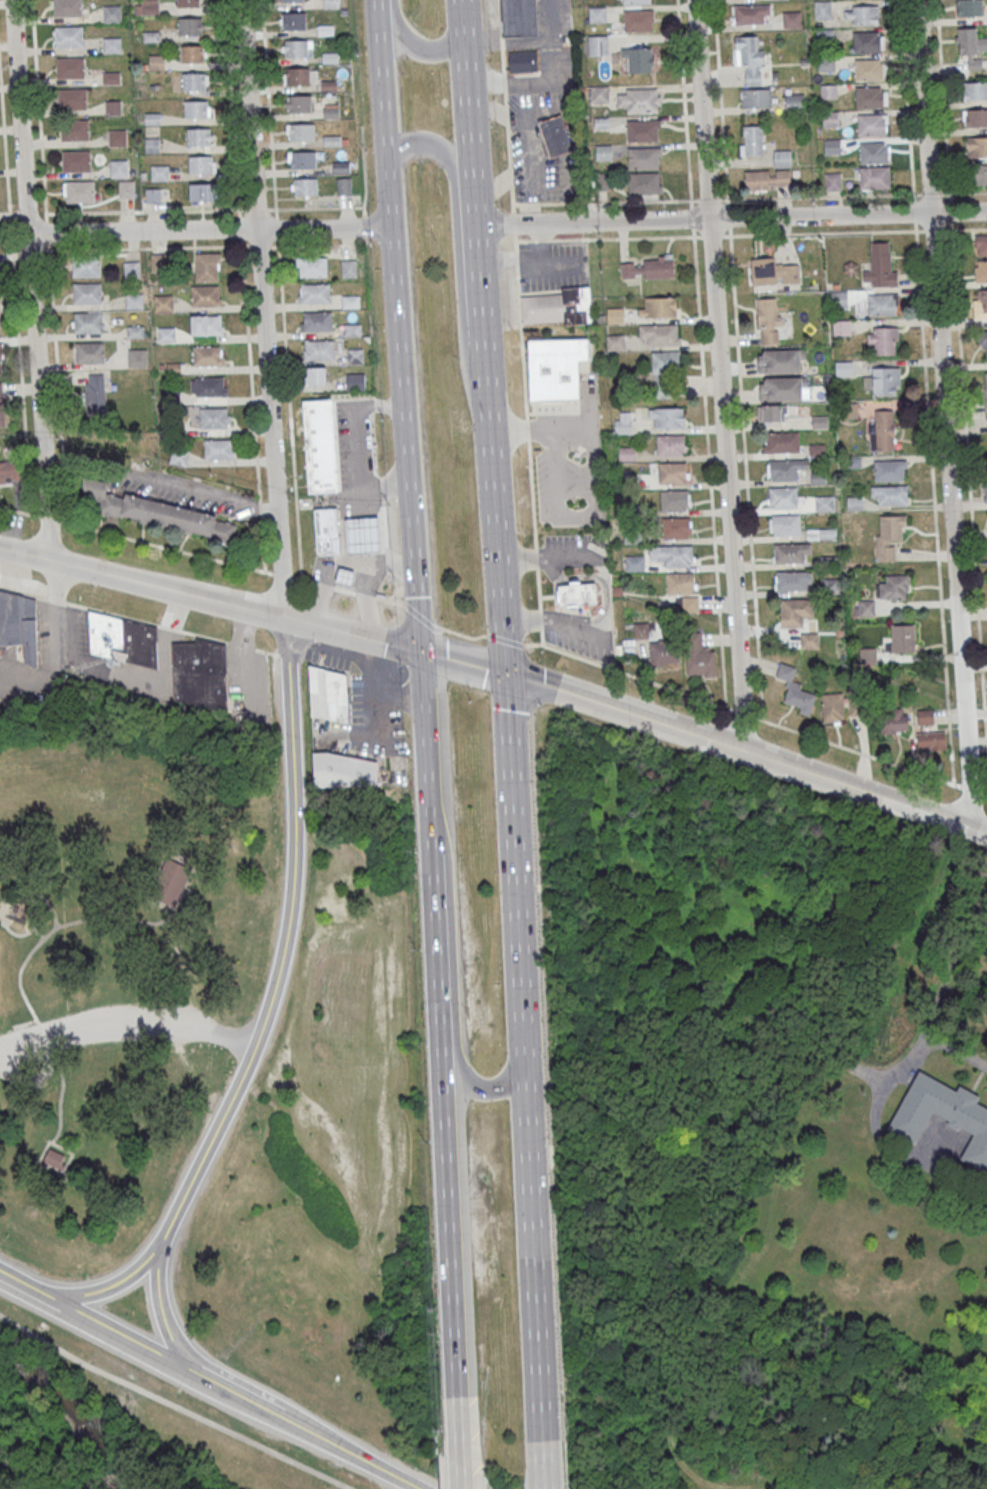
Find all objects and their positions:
building: (292, 0)
building: (637, 1)
building: (188, 3)
building: (331, 3)
building: (150, 7)
building: (66, 8)
building: (969, 8)
building: (822, 9)
building: (112, 13)
road: (498, 14)
building: (596, 14)
building: (751, 14)
building: (861, 15)
building: (791, 19)
building: (294, 20)
building: (518, 20)
building: (638, 20)
building: (188, 25)
building: (68, 36)
road: (500, 38)
building: (866, 42)
building: (113, 45)
road: (530, 45)
building: (597, 45)
building: (971, 46)
building: (295, 48)
road: (415, 48)
building: (192, 53)
road: (501, 57)
building: (750, 57)
building: (637, 59)
building: (156, 61)
building: (522, 65)
building: (70, 68)
building: (868, 70)
parking lot: (552, 74)
road: (383, 75)
building: (297, 76)
building: (111, 77)
road: (503, 77)
building: (193, 81)
road: (524, 83)
building: (975, 90)
building: (828, 91)
road: (466, 93)
building: (599, 94)
building: (869, 97)
road: (504, 98)
building: (756, 98)
building: (72, 99)
building: (638, 100)
road: (906, 100)
road: (942, 100)
building: (794, 102)
building: (300, 103)
road: (684, 103)
road: (720, 103)
road: (37, 106)
building: (113, 107)
building: (196, 108)
road: (505, 115)
building: (975, 117)
building: (152, 118)
building: (871, 125)
building: (74, 130)
building: (642, 130)
building: (302, 131)
building: (198, 136)
building: (117, 137)
building: (554, 140)
building: (752, 140)
road: (4, 144)
building: (152, 145)
road: (507, 145)
building: (831, 146)
building: (976, 146)
building: (603, 152)
building: (873, 153)
building: (643, 157)
building: (304, 160)
building: (76, 161)
building: (200, 164)
building: (342, 167)
building: (119, 168)
building: (159, 172)
building: (771, 174)
building: (981, 174)
road: (510, 176)
building: (874, 177)
building: (832, 181)
building: (644, 182)
building: (305, 186)
building: (344, 186)
road: (390, 187)
building: (126, 188)
building: (80, 191)
building: (201, 191)
road: (963, 191)
road: (930, 192)
building: (153, 195)
road: (820, 195)
road: (511, 199)
road: (708, 199)
road: (604, 200)
road: (474, 206)
road: (244, 209)
street lamp: (509, 209)
road: (914, 210)
road: (950, 210)
road: (730, 215)
road: (692, 217)
road: (728, 217)
road: (513, 223)
road: (324, 227)
road: (964, 227)
road: (933, 229)
road: (142, 231)
road: (826, 232)
road: (711, 235)
road: (726, 235)
road: (626, 236)
road: (540, 239)
road: (522, 240)
road: (514, 242)
road: (539, 244)
building: (980, 244)
road: (215, 245)
road: (515, 256)
road: (504, 259)
road: (458, 264)
road: (551, 265)
building: (880, 265)
building: (86, 266)
building: (207, 266)
building: (658, 266)
building: (313, 267)
building: (349, 268)
building: (131, 269)
building: (630, 269)
building: (981, 270)
parking lot: (556, 271)
building: (773, 272)
road: (31, 279)
road: (244, 285)
road: (280, 289)
road: (479, 289)
building: (87, 292)
building: (315, 293)
building: (205, 295)
building: (839, 298)
building: (134, 300)
building: (351, 301)
building: (982, 301)
building: (163, 302)
building: (882, 304)
building: (659, 307)
road: (262, 308)
building: (558, 309)
building: (615, 315)
building: (768, 320)
road: (16, 321)
building: (318, 321)
building: (88, 322)
building: (206, 324)
building: (842, 327)
building: (353, 329)
building: (135, 331)
building: (166, 334)
building: (659, 334)
road: (54, 337)
building: (883, 339)
road: (521, 340)
building: (983, 340)
building: (615, 342)
building: (319, 349)
building: (89, 352)
building: (356, 355)
building: (207, 356)
building: (137, 357)
building: (0, 360)
building: (778, 361)
building: (556, 367)
building: (843, 368)
building: (664, 373)
building: (316, 375)
road: (719, 375)
building: (356, 381)
building: (883, 381)
building: (209, 386)
building: (782, 388)
building: (985, 395)
building: (94, 397)
building: (2, 410)
building: (772, 412)
road: (946, 413)
building: (666, 417)
building: (213, 418)
road: (526, 428)
road: (568, 430)
building: (882, 430)
road: (520, 433)
road: (406, 437)
building: (781, 442)
building: (670, 445)
building: (219, 449)
building: (178, 457)
road: (708, 468)
building: (784, 469)
building: (889, 470)
building: (1, 472)
road: (745, 472)
building: (672, 473)
road: (969, 478)
road: (160, 479)
parking lot: (559, 482)
road: (531, 493)
building: (97, 494)
building: (889, 494)
building: (986, 496)
building: (782, 497)
building: (675, 500)
road: (933, 501)
building: (823, 503)
road: (495, 513)
road: (575, 516)
building: (179, 518)
building: (784, 524)
building: (676, 528)
building: (821, 533)
building: (326, 535)
building: (890, 537)
road: (136, 538)
building: (359, 539)
parking lot: (564, 547)
building: (790, 552)
building: (673, 555)
road: (535, 557)
road: (548, 559)
building: (634, 563)
road: (551, 571)
road: (282, 575)
road: (297, 579)
building: (346, 579)
road: (567, 580)
building: (793, 580)
road: (141, 581)
road: (307, 581)
building: (681, 583)
road: (323, 585)
building: (831, 586)
road: (537, 587)
building: (894, 587)
road: (343, 590)
road: (32, 595)
road: (365, 595)
road: (553, 595)
building: (576, 596)
road: (546, 597)
road: (389, 601)
road: (605, 601)
building: (687, 604)
building: (864, 607)
road: (557, 610)
road: (566, 611)
building: (795, 612)
road: (111, 613)
road: (555, 615)
road: (419, 616)
road: (538, 619)
road: (539, 621)
building: (19, 624)
road: (168, 627)
road: (439, 628)
building: (640, 630)
road: (575, 631)
road: (352, 633)
road: (50, 634)
road: (464, 635)
road: (203, 636)
road: (540, 636)
building: (903, 638)
building: (122, 639)
road: (504, 639)
building: (809, 640)
road: (240, 644)
parking lot: (581, 644)
traffic signals: (421, 650)
road: (266, 651)
building: (663, 652)
road: (281, 655)
building: (867, 655)
building: (698, 657)
road: (463, 661)
road: (242, 664)
road: (366, 670)
building: (201, 673)
traffic signals: (505, 673)
road: (628, 673)
road: (152, 682)
building: (795, 690)
road: (394, 693)
building: (327, 695)
road: (392, 700)
road: (423, 702)
building: (832, 707)
parking lot: (352, 711)
road: (742, 713)
building: (925, 716)
building: (894, 722)
road: (373, 736)
building: (931, 740)
road: (737, 749)
road: (856, 751)
building: (342, 772)
road: (427, 774)
road: (971, 789)
road: (984, 792)
road: (978, 831)
road: (294, 837)
road: (514, 862)
building: (169, 882)
road: (46, 902)
road: (37, 934)
park: (122, 958)
road: (19, 971)
road: (452, 980)
road: (126, 1022)
parking lot: (92, 1035)
road: (876, 1105)
building: (944, 1115)
road: (444, 1129)
road: (205, 1149)
building: (55, 1157)
park: (260, 1232)
road: (534, 1270)
road: (107, 1290)
road: (171, 1330)
road: (207, 1384)
road: (172, 1405)
river: (70, 1410)
road: (460, 1476)

